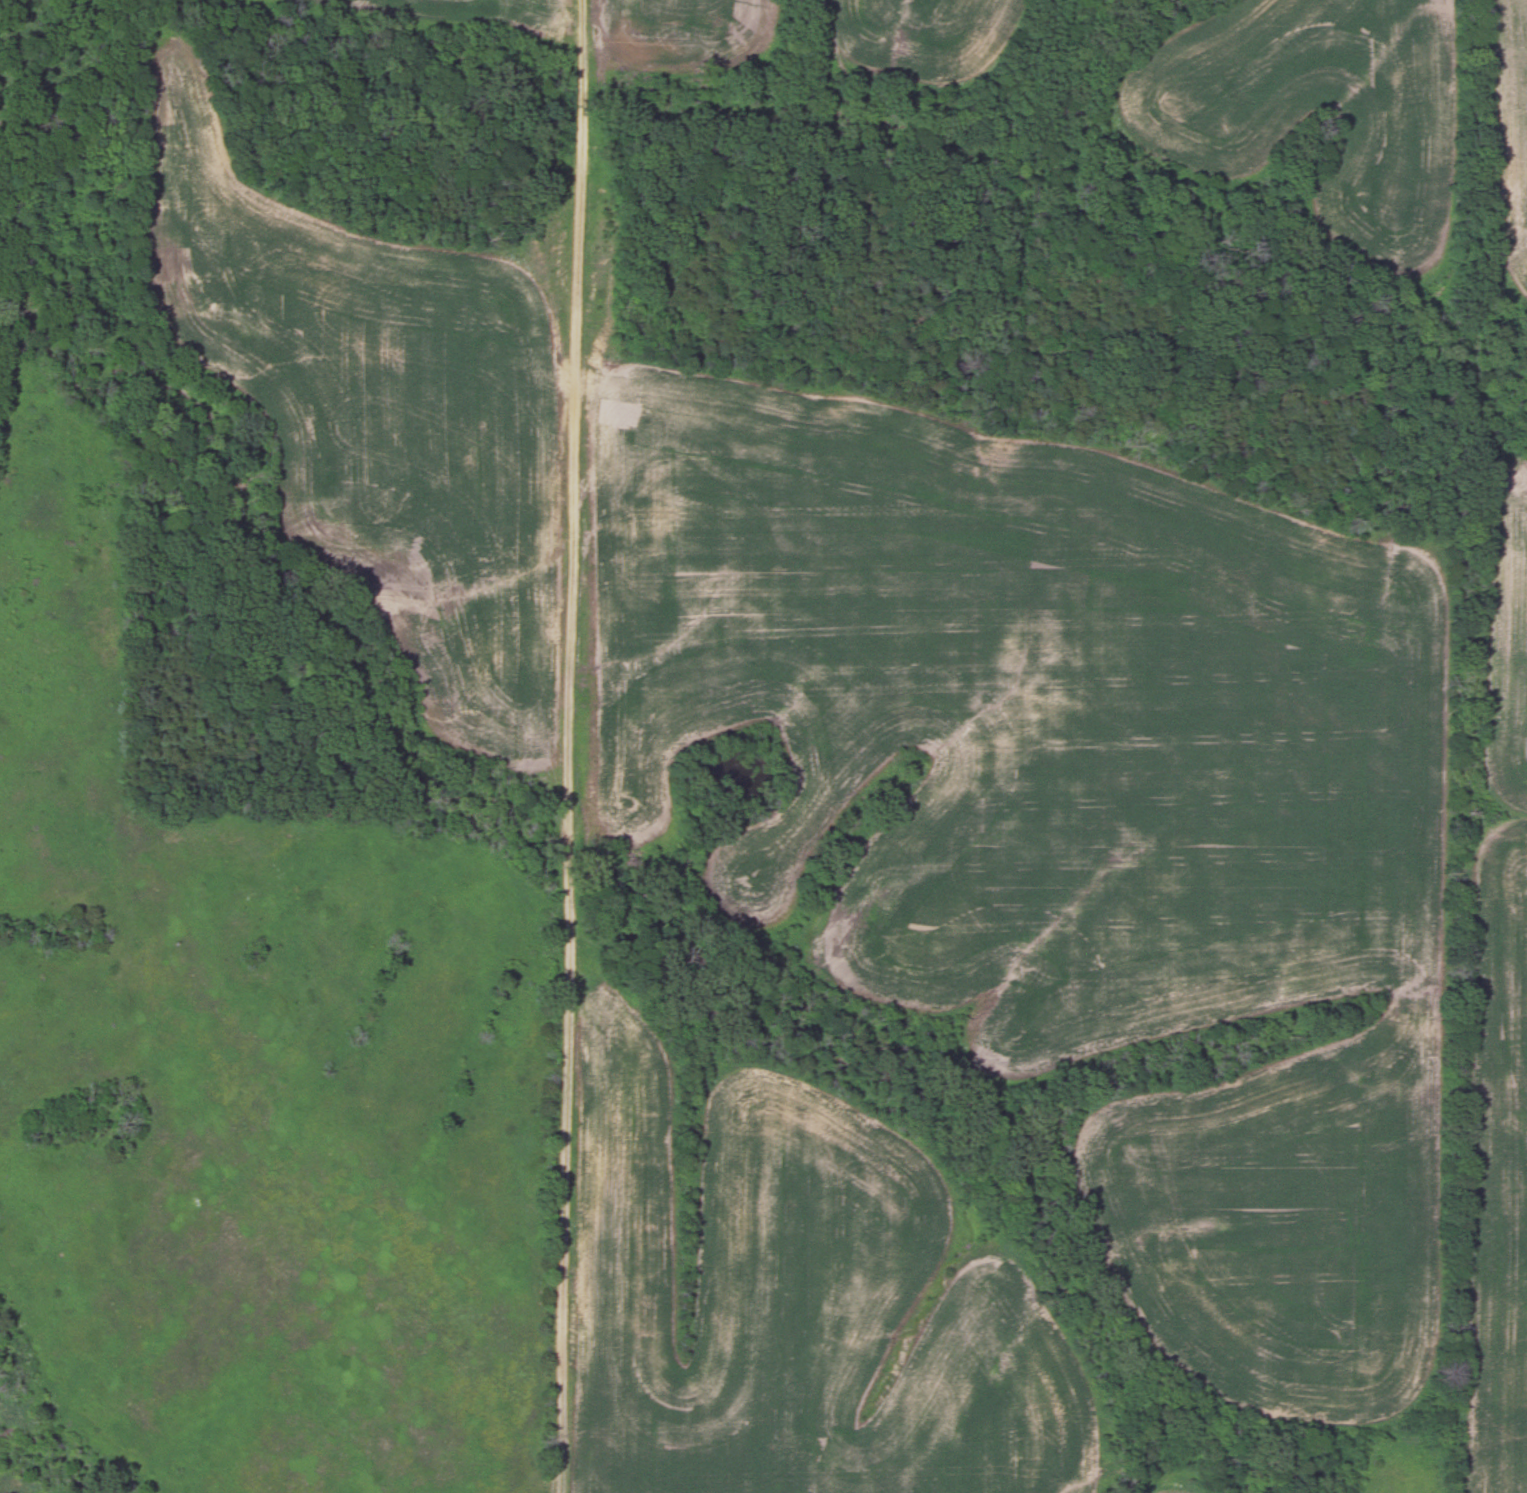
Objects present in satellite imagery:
road: (569, 746)

